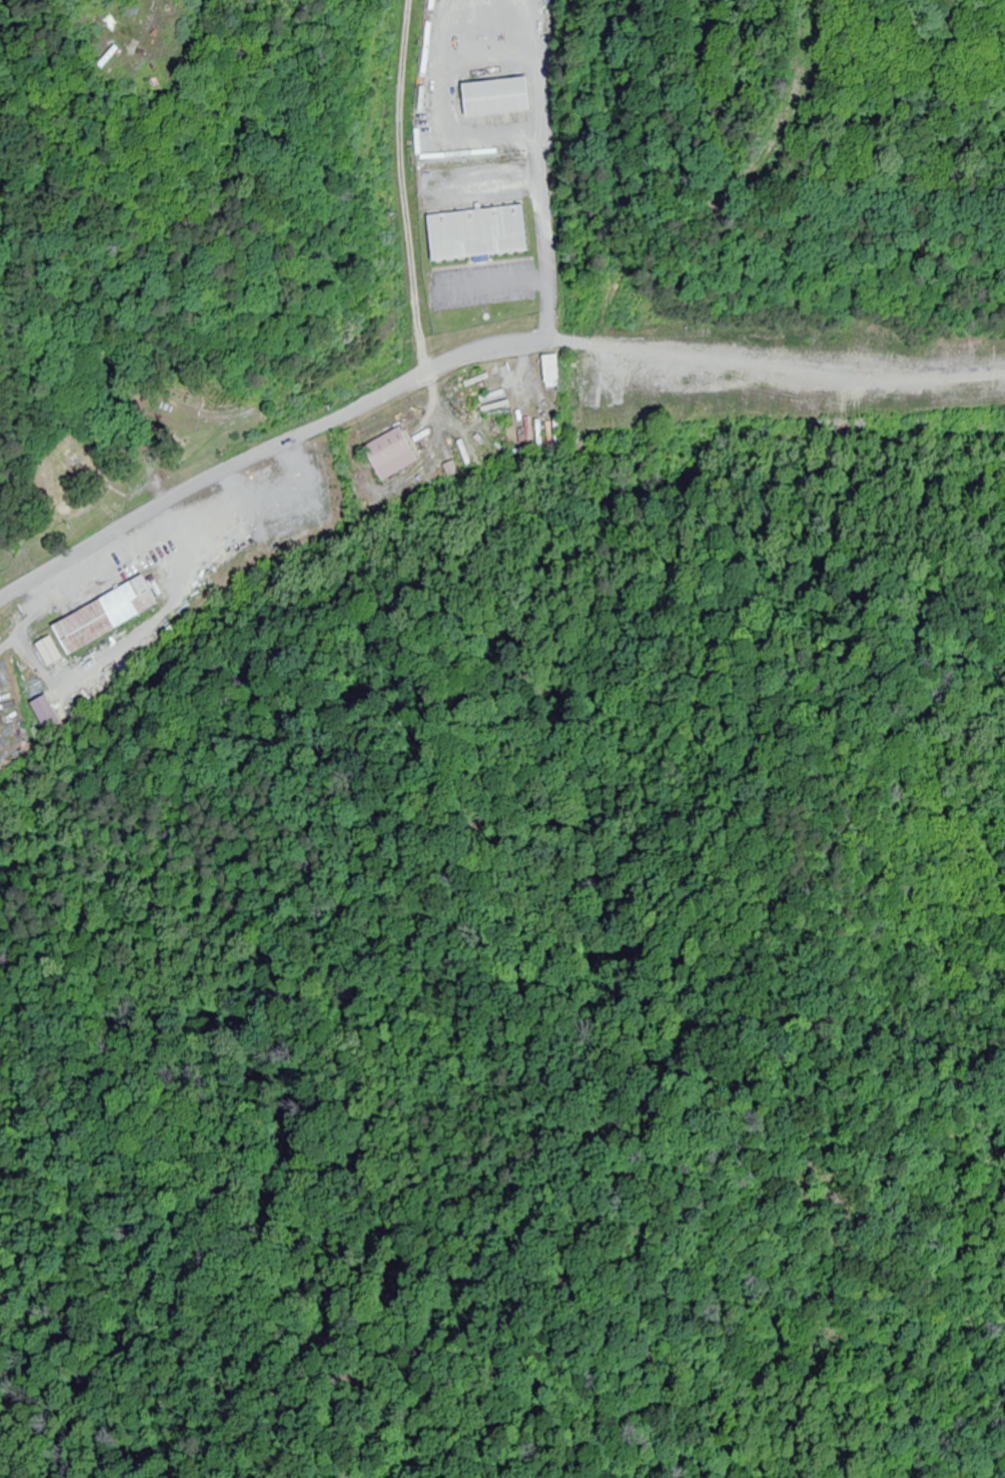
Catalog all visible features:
building: (499, 97)
building: (480, 234)
road: (478, 364)
building: (555, 372)
building: (394, 455)
building: (109, 617)
building: (52, 653)
building: (46, 709)

